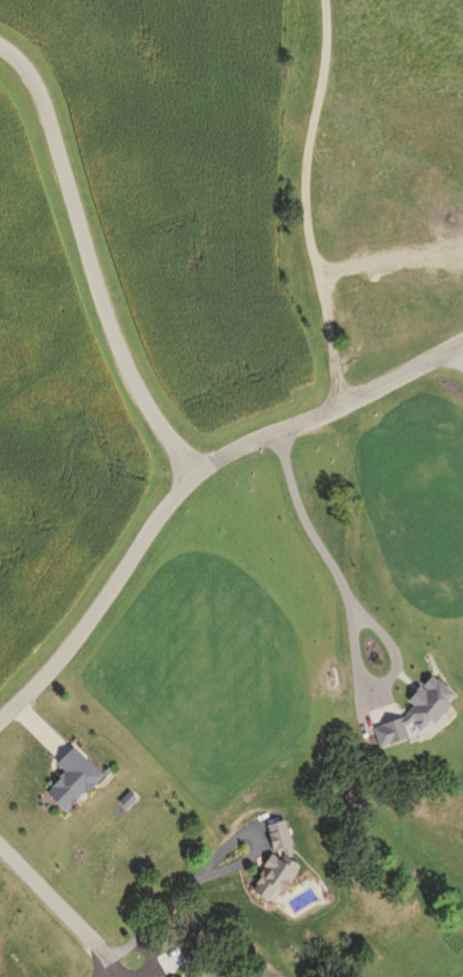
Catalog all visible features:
road: (304, 210)
road: (88, 264)
road: (184, 488)
road: (349, 558)
building: (69, 781)
building: (125, 801)
building: (274, 863)
road: (210, 874)
road: (59, 910)

